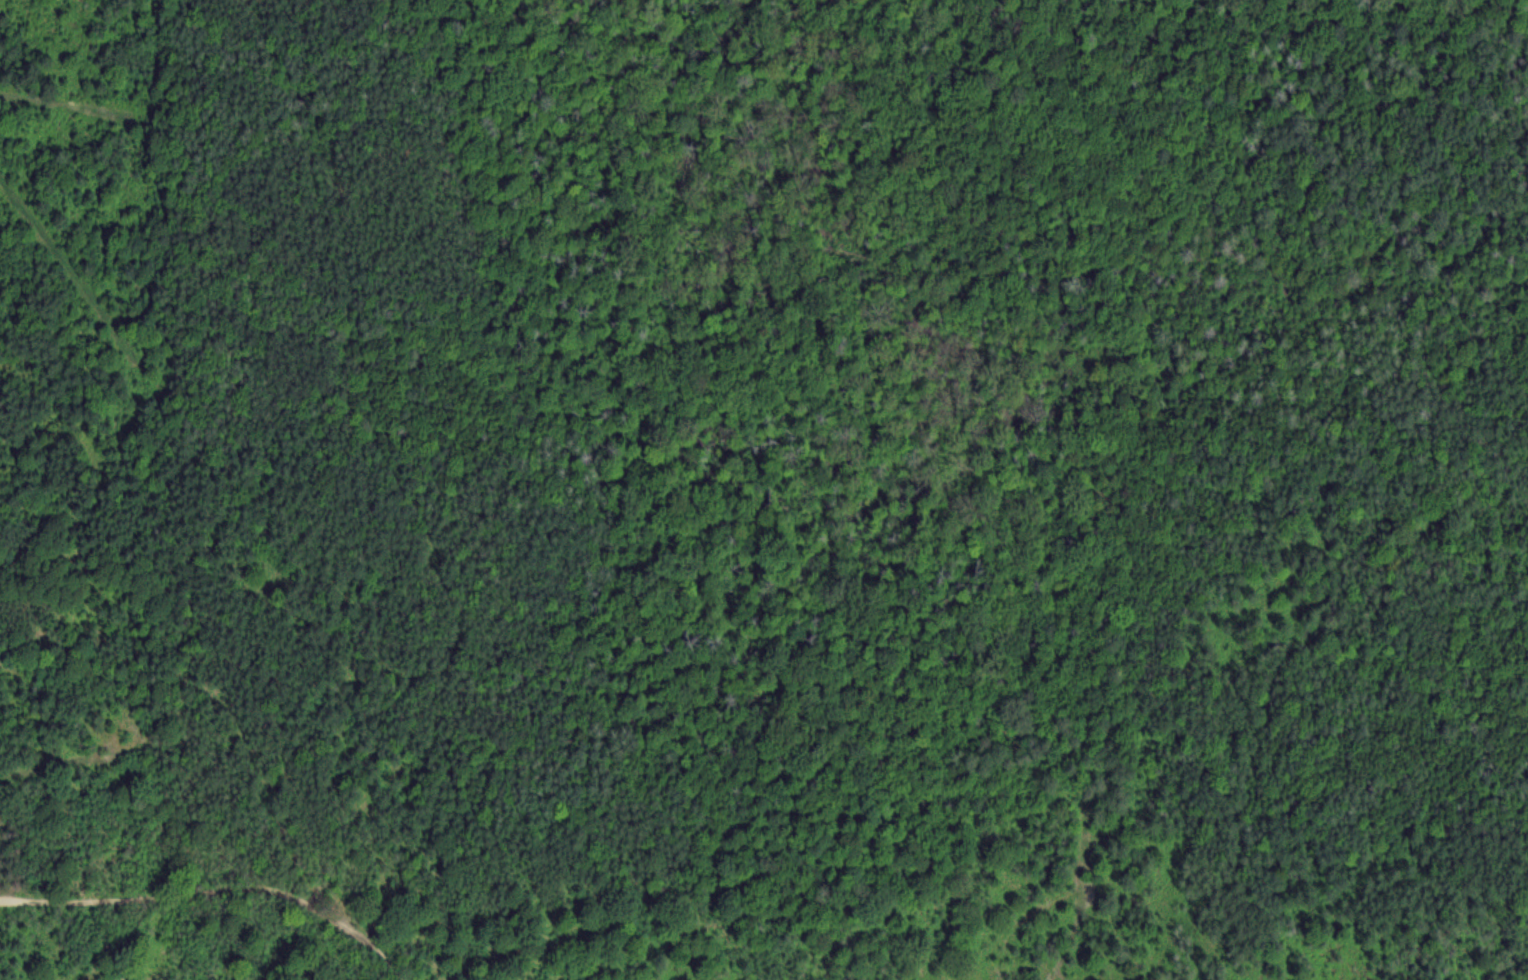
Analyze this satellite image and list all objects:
road: (219, 888)

